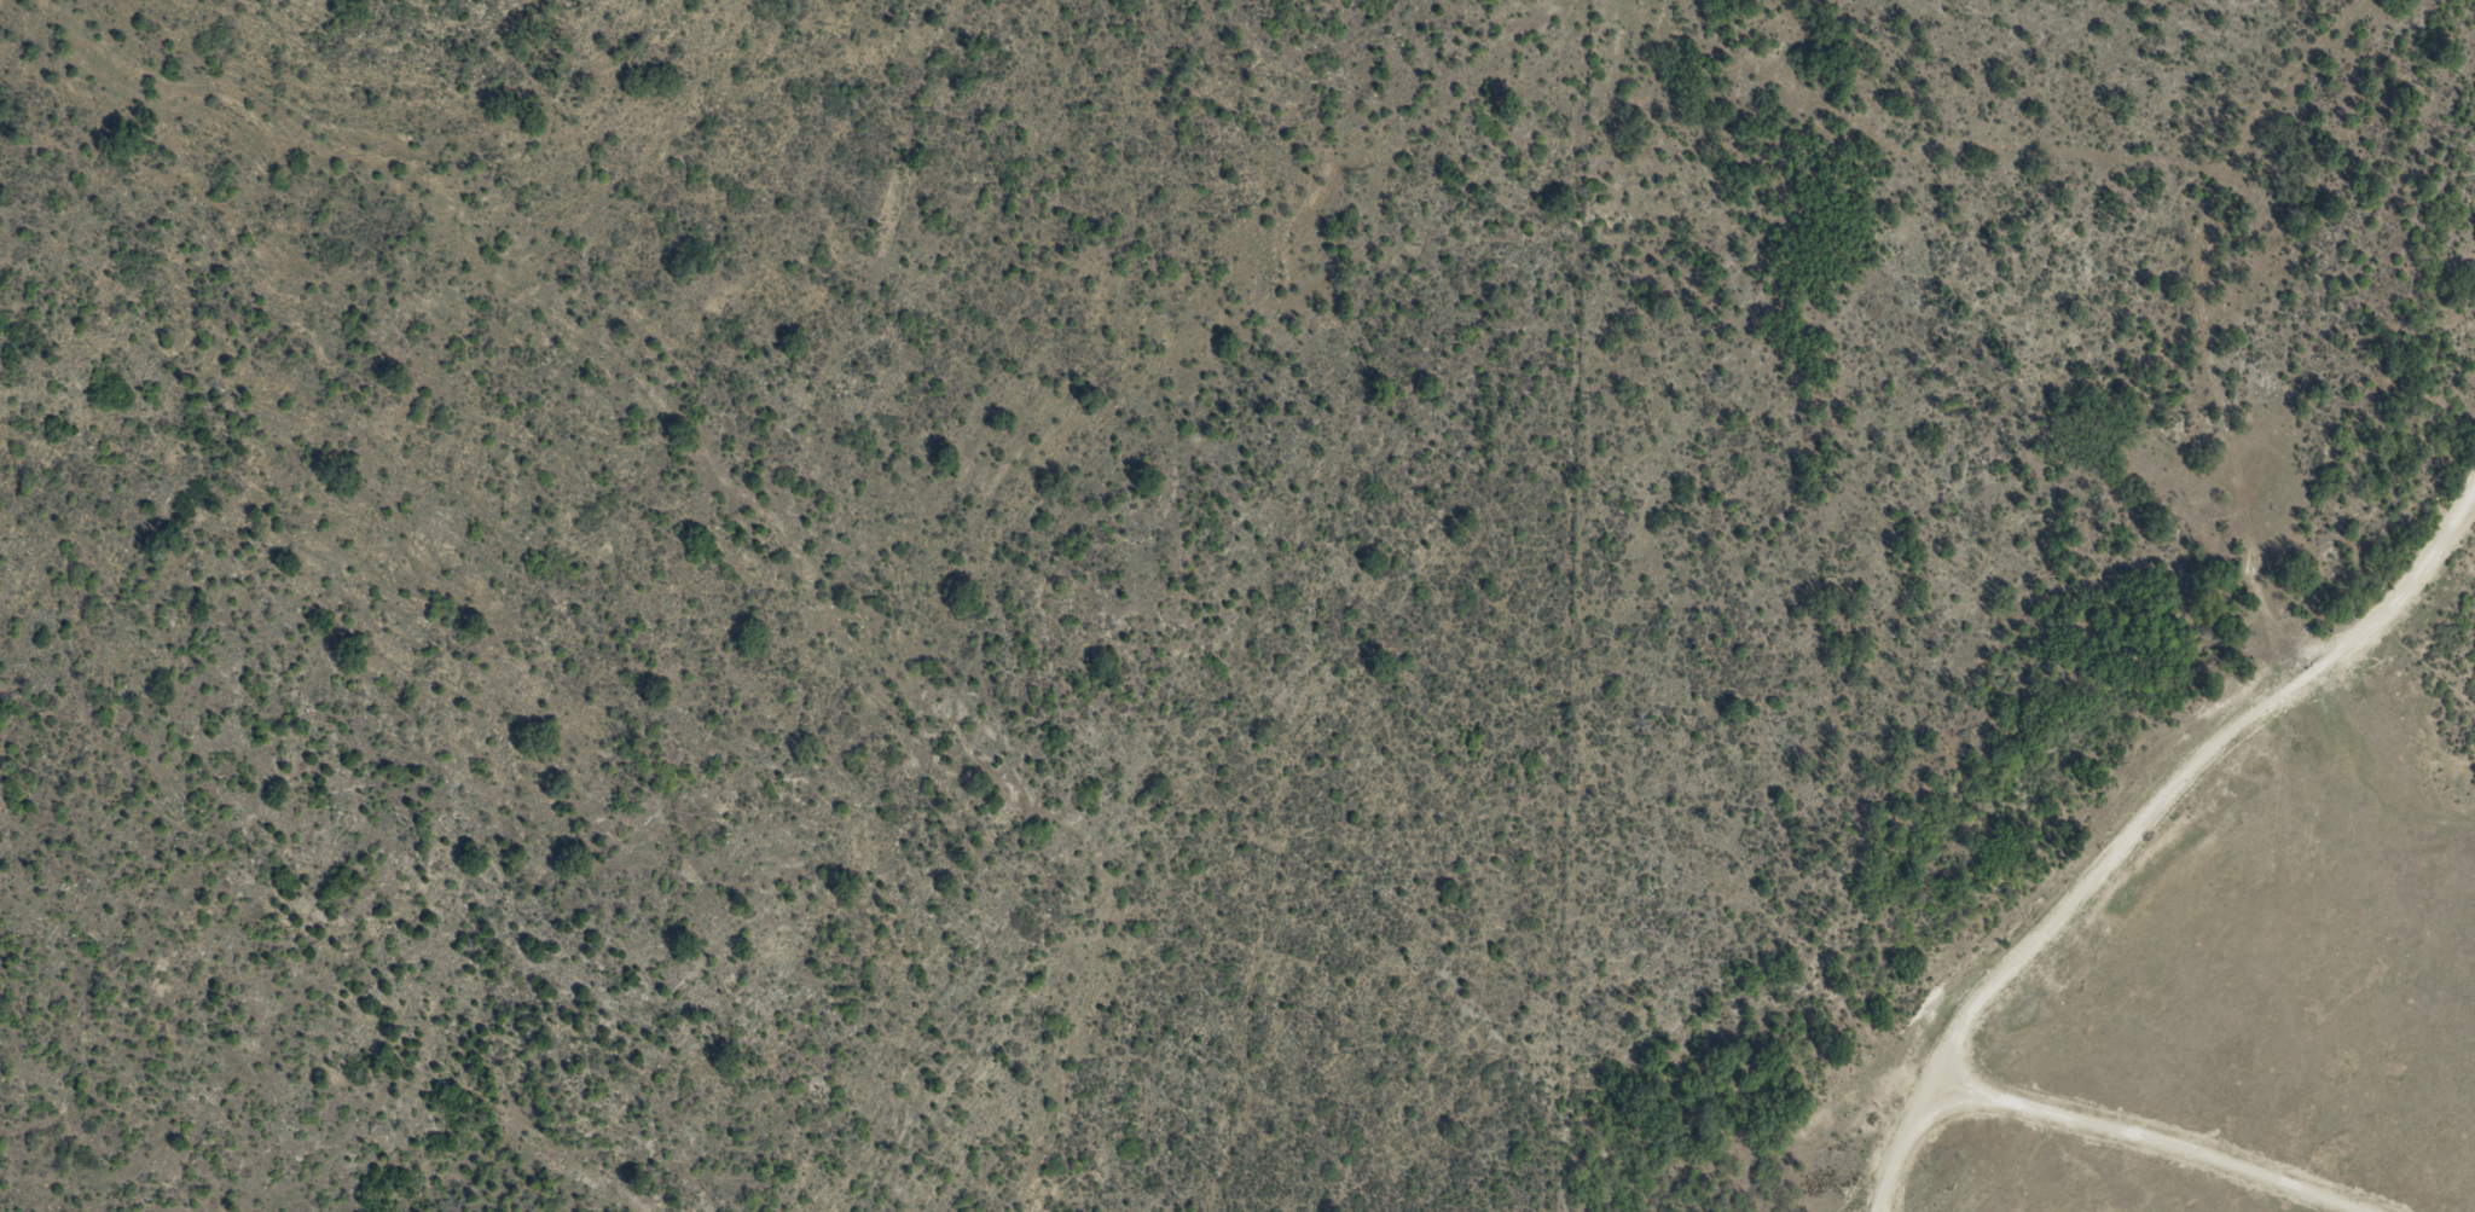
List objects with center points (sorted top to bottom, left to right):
road: (2162, 888)

